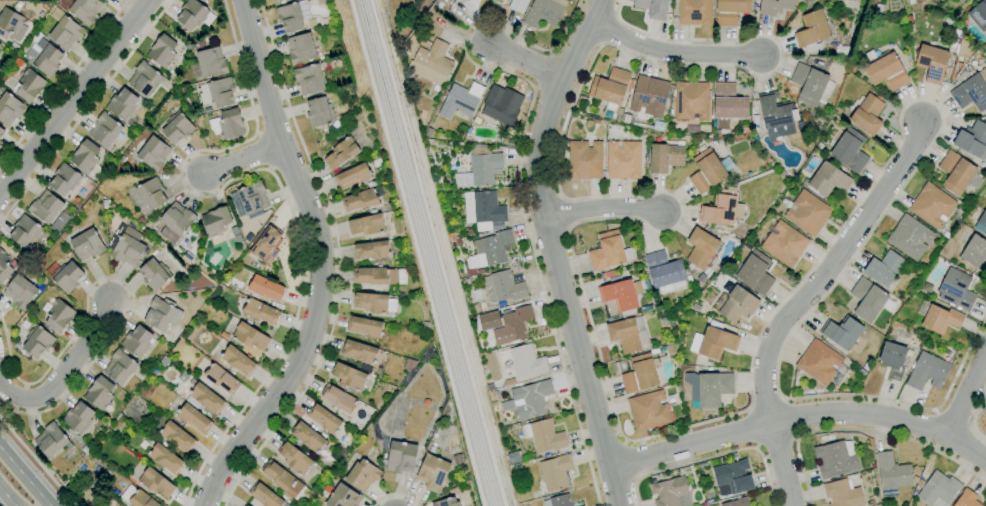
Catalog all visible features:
building: (105, 0)
building: (106, 0)
building: (466, 0)
building: (859, 0)
building: (278, 1)
building: (915, 1)
building: (961, 1)
building: (518, 5)
building: (774, 6)
building: (653, 8)
building: (81, 9)
building: (730, 11)
building: (544, 12)
building: (695, 12)
building: (194, 15)
building: (979, 15)
building: (292, 16)
building: (11, 25)
building: (64, 30)
building: (812, 32)
building: (415, 43)
building: (0, 46)
building: (301, 49)
building: (957, 49)
building: (964, 49)
building: (162, 51)
building: (841, 51)
road: (677, 52)
building: (44, 58)
building: (211, 63)
building: (431, 63)
road: (523, 63)
building: (932, 63)
building: (886, 72)
building: (310, 78)
building: (144, 79)
road: (62, 82)
building: (29, 85)
building: (811, 85)
building: (610, 88)
building: (970, 89)
building: (217, 92)
road: (78, 96)
building: (649, 96)
building: (461, 100)
building: (691, 101)
building: (728, 103)
building: (122, 104)
building: (497, 106)
building: (9, 107)
road: (85, 110)
building: (774, 111)
building: (319, 112)
building: (867, 115)
building: (627, 119)
building: (227, 124)
building: (489, 124)
building: (658, 126)
building: (178, 128)
building: (104, 130)
building: (1, 132)
building: (973, 139)
building: (0, 143)
building: (849, 151)
building: (153, 153)
building: (341, 153)
building: (85, 156)
building: (665, 157)
building: (584, 160)
building: (623, 160)
road: (241, 162)
building: (480, 169)
building: (708, 169)
road: (520, 171)
building: (956, 172)
building: (352, 176)
building: (64, 179)
building: (829, 180)
road: (276, 184)
building: (152, 193)
building: (248, 198)
building: (360, 200)
building: (932, 205)
building: (45, 207)
building: (482, 210)
building: (721, 211)
road: (603, 212)
building: (807, 213)
building: (216, 221)
building: (59, 222)
building: (175, 222)
building: (981, 223)
building: (366, 225)
building: (24, 231)
building: (909, 237)
building: (87, 244)
building: (784, 244)
building: (126, 245)
building: (266, 246)
road: (554, 248)
building: (701, 248)
building: (371, 250)
building: (489, 251)
building: (607, 251)
building: (974, 251)
railway: (420, 253)
railway: (430, 253)
road: (320, 259)
road: (337, 262)
building: (4, 266)
building: (884, 268)
road: (829, 270)
building: (664, 272)
building: (755, 273)
building: (154, 274)
building: (612, 275)
building: (379, 276)
building: (68, 277)
road: (111, 278)
building: (503, 287)
building: (266, 288)
building: (956, 290)
building: (20, 292)
building: (621, 296)
building: (867, 300)
building: (374, 302)
building: (738, 305)
building: (646, 309)
building: (260, 312)
building: (161, 314)
building: (59, 315)
building: (938, 318)
building: (489, 321)
building: (513, 325)
building: (365, 327)
building: (841, 333)
building: (628, 335)
building: (250, 336)
building: (37, 341)
building: (137, 341)
building: (716, 343)
building: (360, 351)
building: (892, 359)
building: (238, 361)
building: (526, 362)
building: (818, 362)
building: (119, 367)
building: (927, 371)
road: (65, 375)
building: (639, 375)
building: (349, 376)
building: (221, 379)
building: (509, 382)
building: (708, 388)
building: (99, 393)
road: (968, 395)
building: (205, 399)
building: (340, 399)
building: (528, 399)
road: (6, 406)
building: (648, 411)
road: (801, 416)
road: (974, 417)
building: (78, 418)
building: (194, 418)
building: (324, 419)
building: (172, 432)
road: (862, 432)
road: (665, 433)
building: (544, 436)
building: (308, 438)
building: (50, 440)
road: (712, 456)
building: (401, 457)
building: (165, 459)
building: (295, 459)
building: (836, 459)
road: (38, 461)
road: (630, 461)
road: (782, 465)
building: (433, 472)
building: (555, 472)
building: (891, 472)
building: (362, 475)
road: (24, 477)
building: (731, 478)
building: (156, 482)
building: (286, 482)
building: (920, 484)
building: (938, 489)
building: (671, 492)
road: (395, 494)
building: (842, 494)
building: (264, 495)
building: (343, 497)
building: (138, 498)
road: (5, 499)
building: (967, 499)
building: (558, 501)
building: (446, 502)
building: (737, 502)
building: (119, 505)
building: (581, 505)

